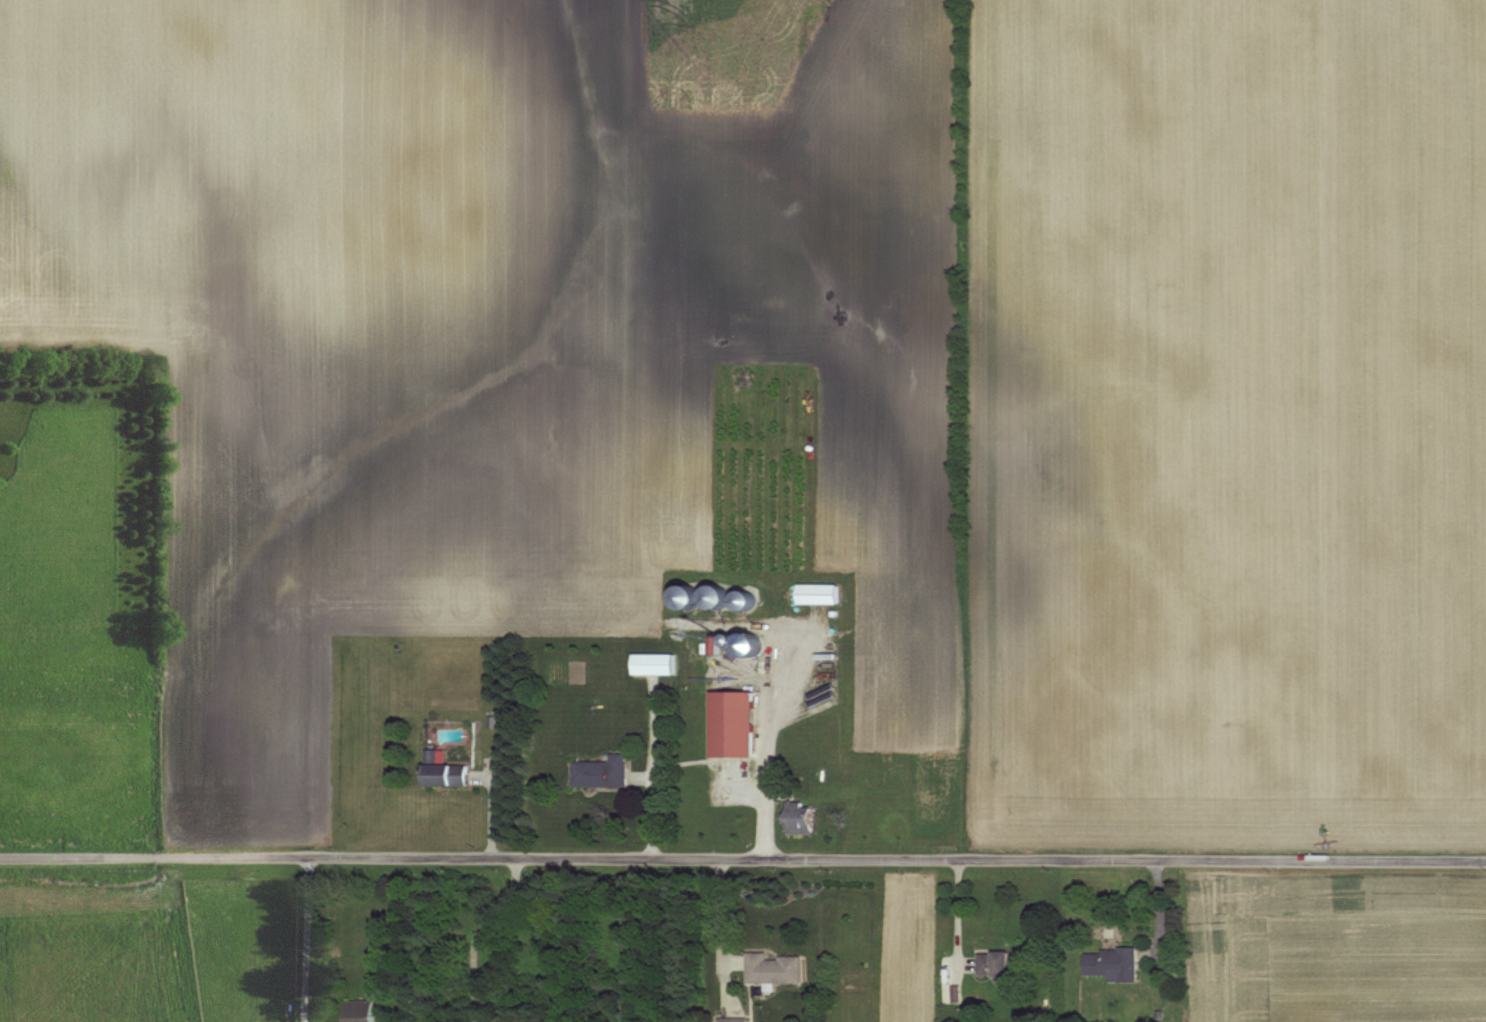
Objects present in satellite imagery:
building: (818, 593)
silo: (689, 595)
silo: (717, 595)
building: (716, 597)
silo: (745, 598)
building: (688, 599)
building: (745, 601)
road: (709, 621)
building: (654, 663)
parking lot: (781, 670)
road: (771, 673)
building: (732, 723)
road: (652, 765)
building: (443, 770)
building: (601, 771)
road: (479, 776)
road: (636, 777)
road: (648, 777)
parking lot: (733, 781)
road: (766, 795)
road: (491, 807)
building: (800, 817)
road: (742, 858)
road: (476, 933)
road: (306, 939)
building: (1001, 964)
building: (1112, 964)
building: (773, 969)
building: (360, 1011)
building: (734, 1020)

